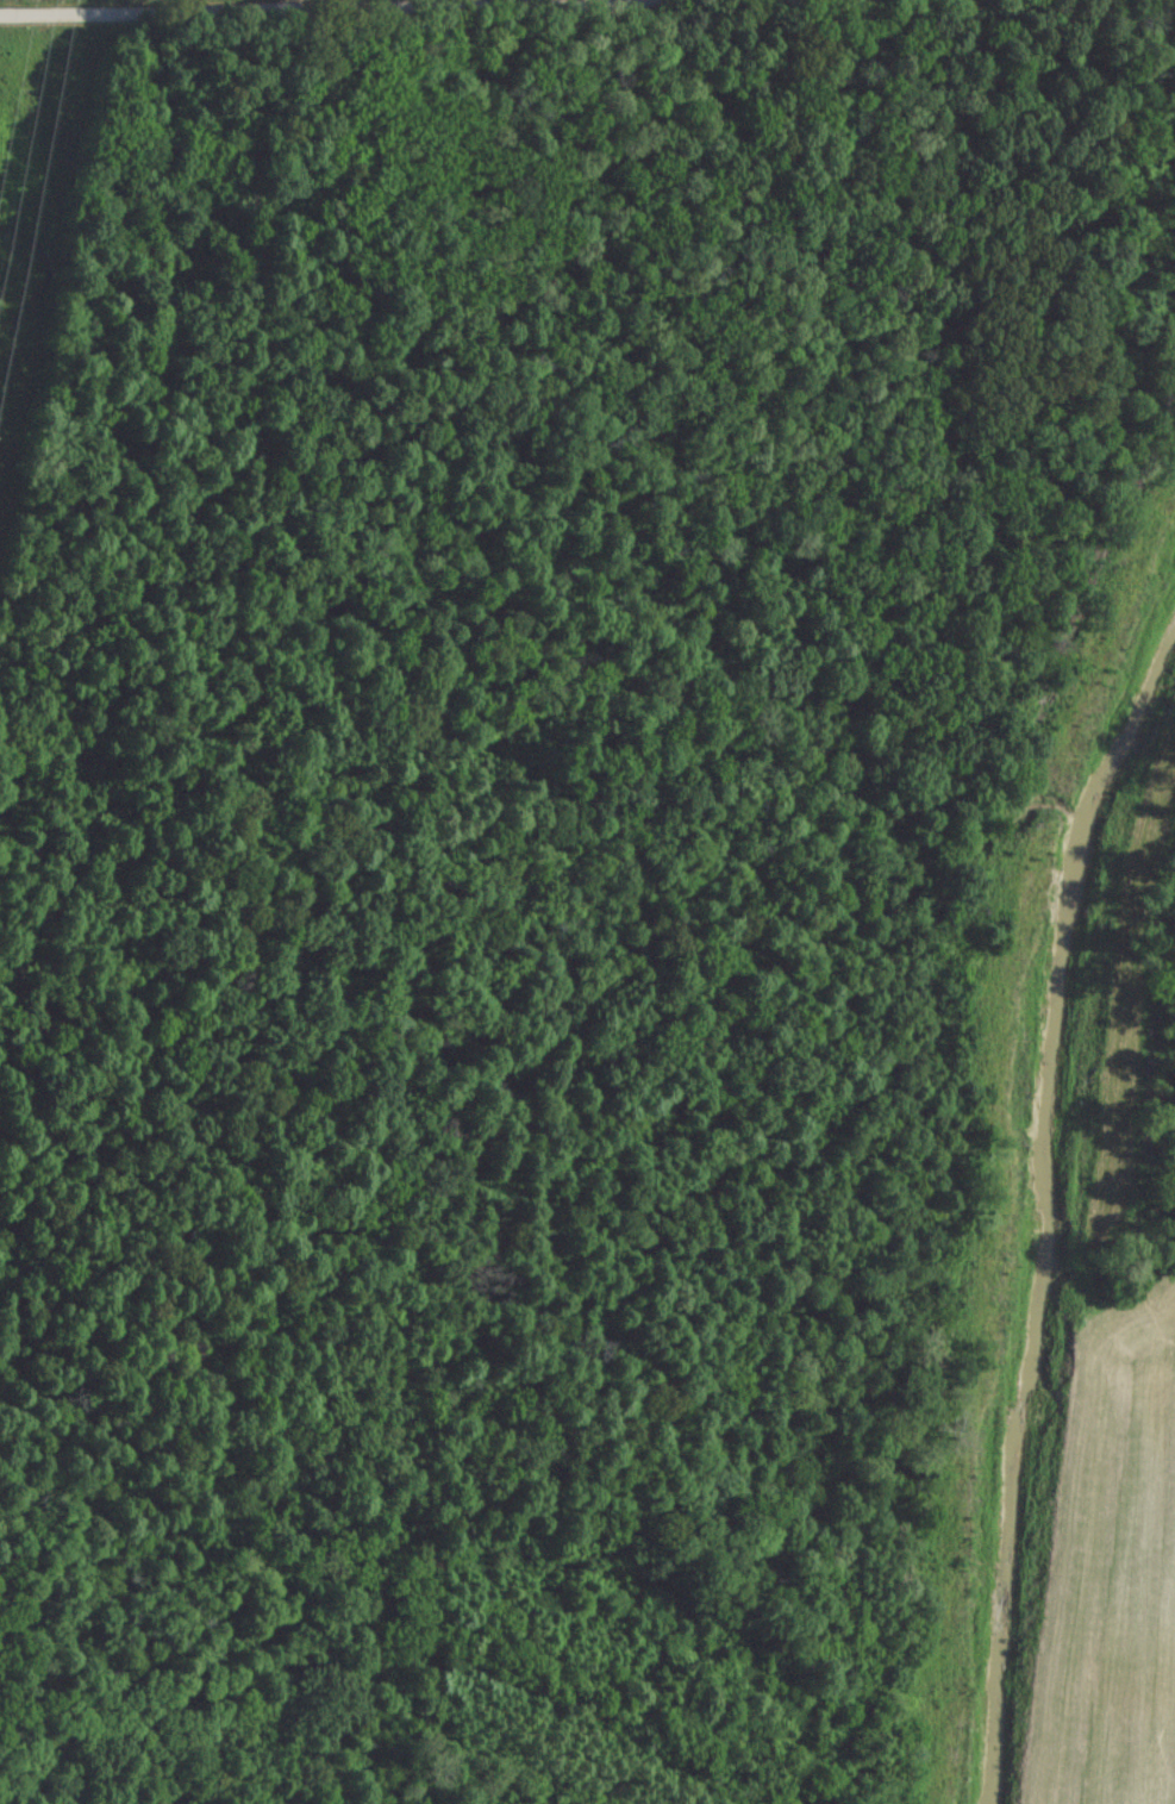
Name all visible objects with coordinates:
road: (321, 15)

